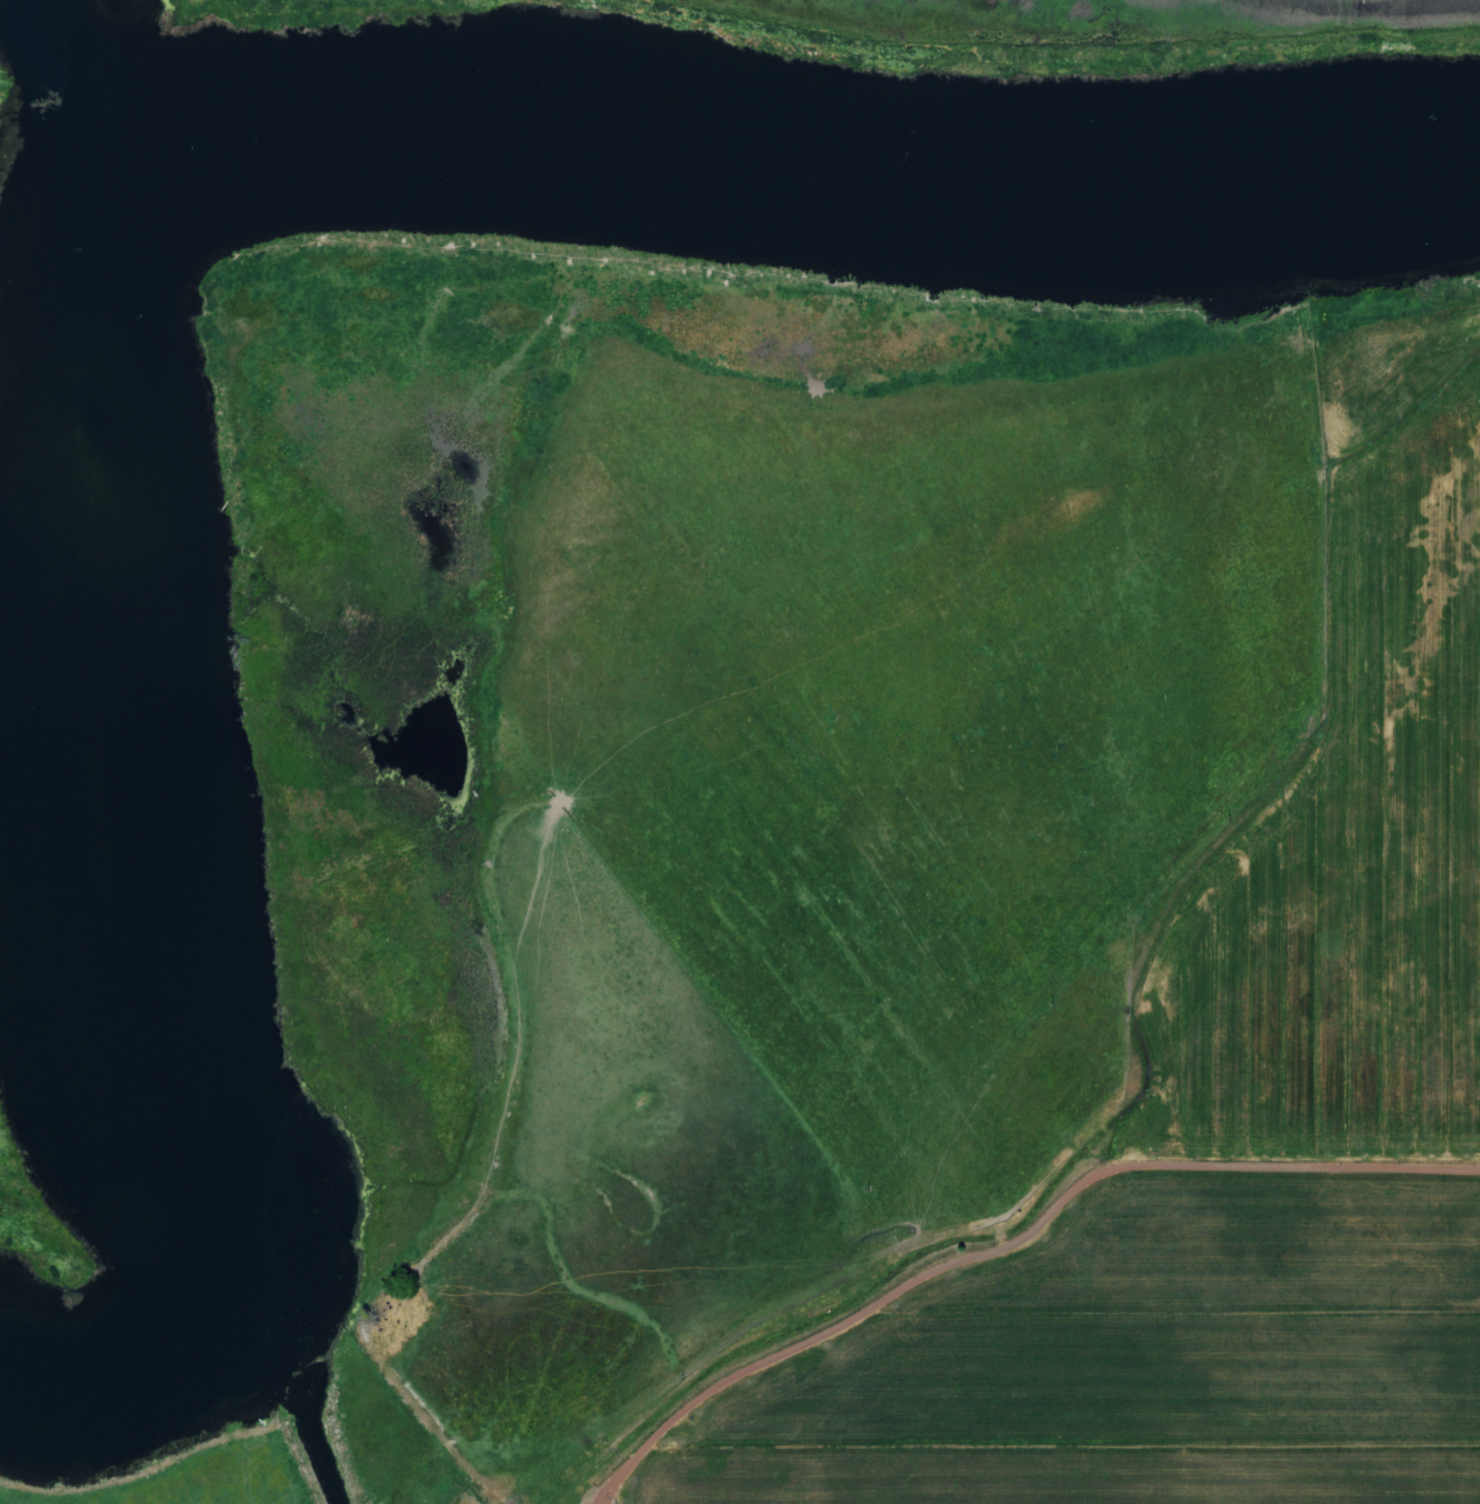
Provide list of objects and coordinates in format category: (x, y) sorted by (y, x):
river: (69, 83)
river: (591, 157)
river: (1272, 172)
river: (110, 859)
road: (1013, 1250)

